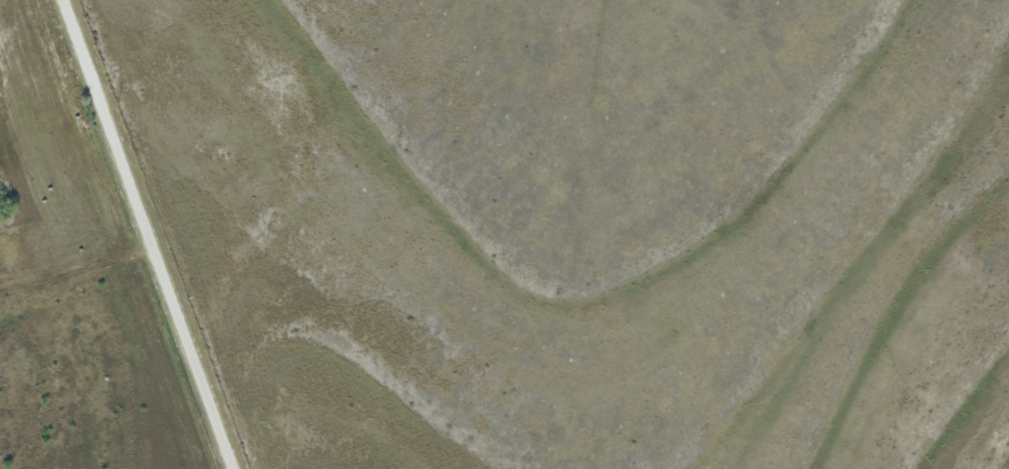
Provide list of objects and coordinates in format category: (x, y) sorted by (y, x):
road: (149, 234)

